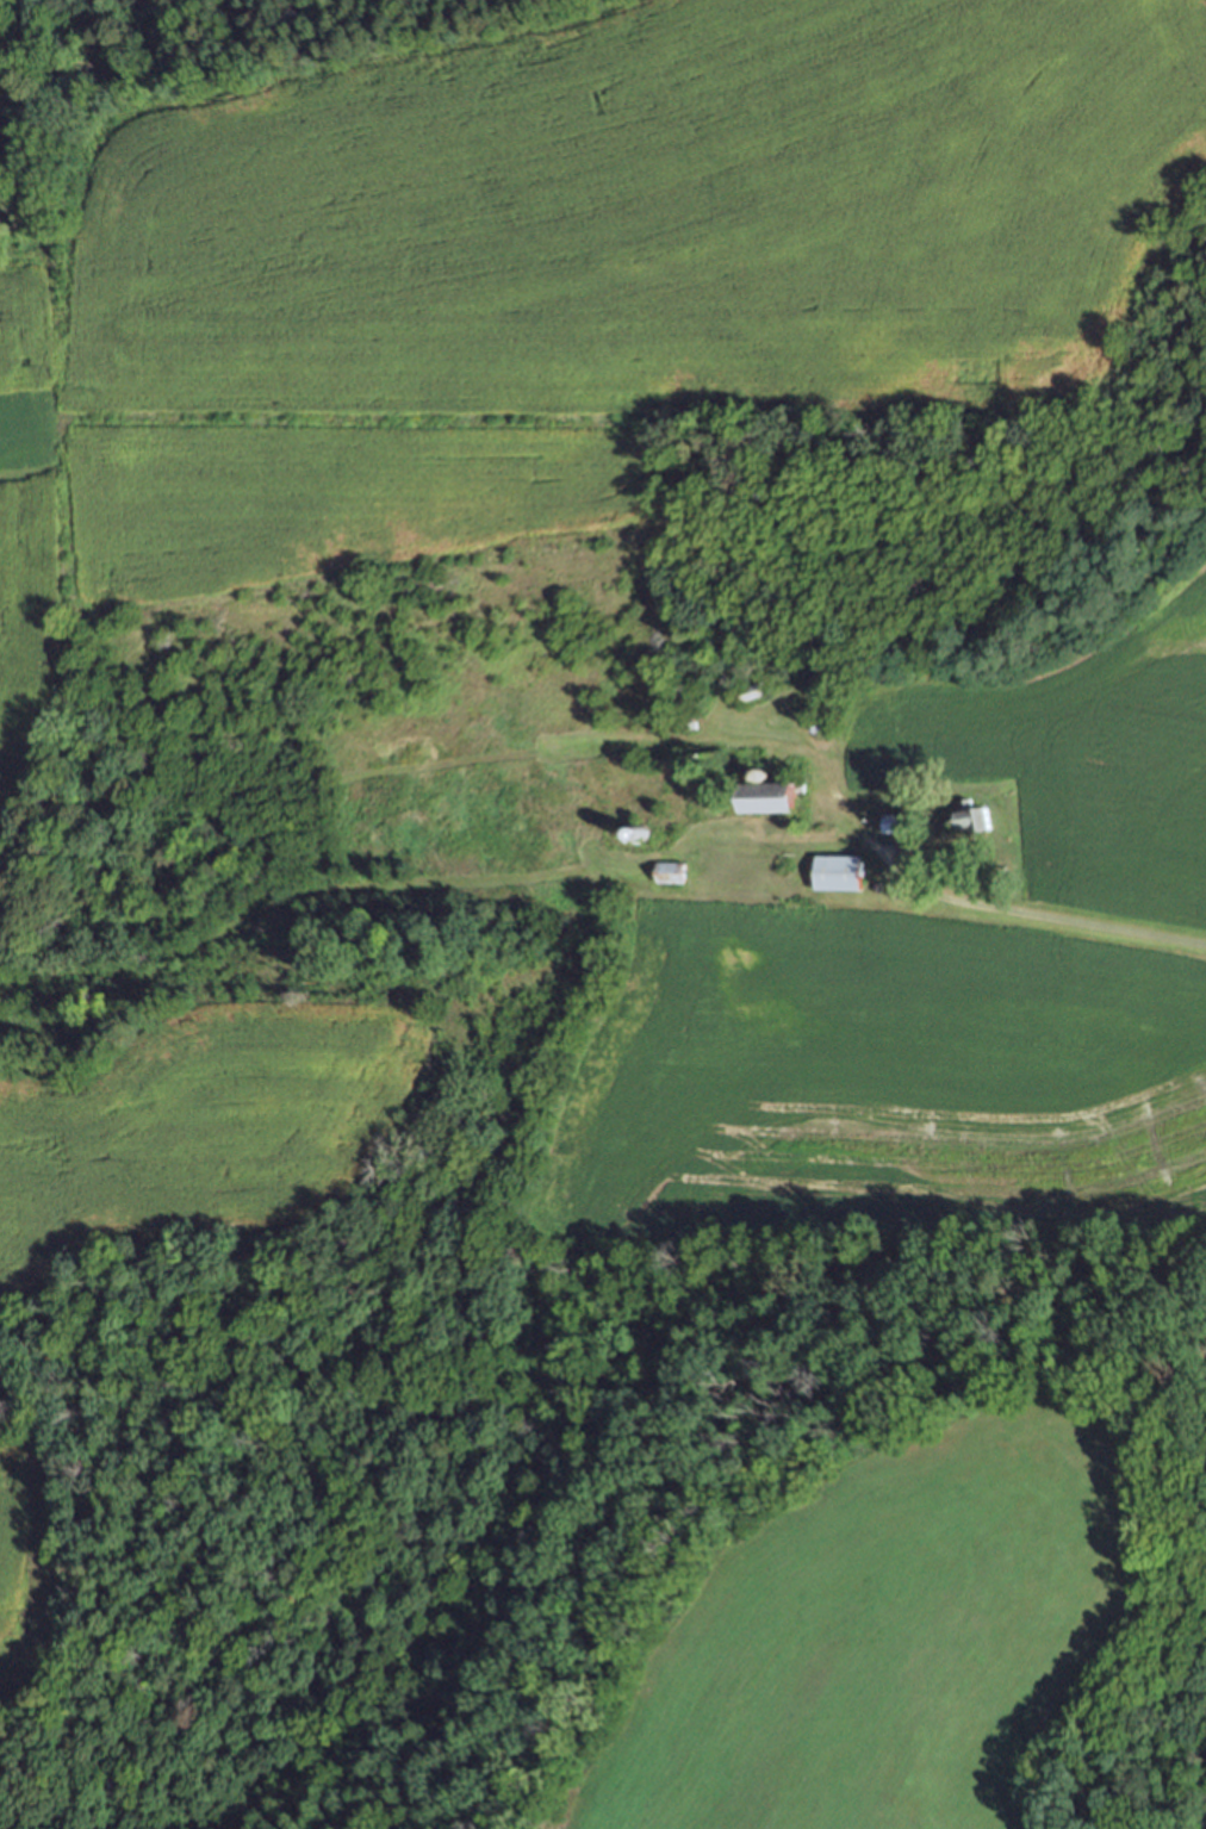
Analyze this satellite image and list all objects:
building: (754, 691)
building: (689, 722)
building: (776, 794)
building: (976, 816)
building: (899, 822)
building: (672, 871)
building: (841, 871)
road: (1015, 910)

